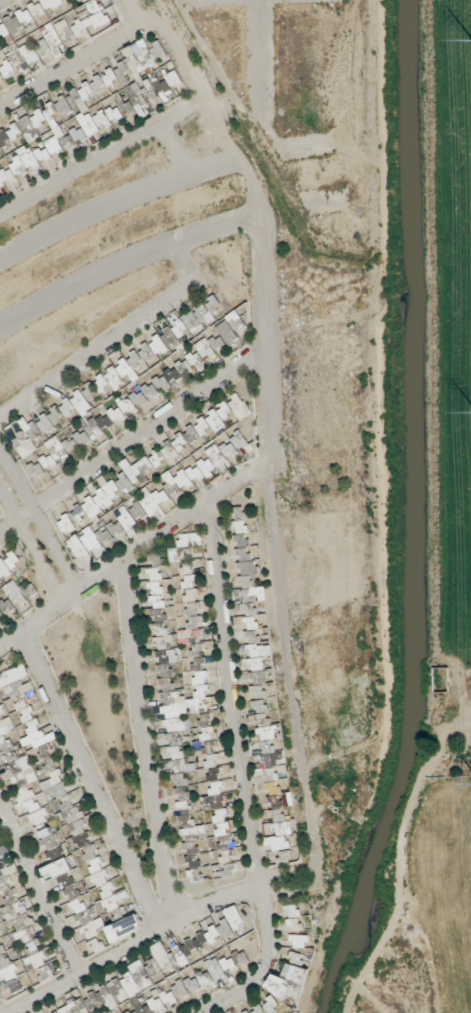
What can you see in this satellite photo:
road: (3, 1)
road: (216, 2)
road: (131, 14)
power tower: (468, 44)
building: (0, 51)
road: (259, 58)
road: (83, 60)
building: (166, 87)
building: (138, 102)
building: (79, 109)
road: (173, 154)
road: (104, 159)
road: (116, 204)
road: (123, 263)
road: (182, 270)
road: (87, 357)
road: (385, 358)
road: (133, 441)
road: (268, 448)
road: (40, 522)
road: (29, 549)
road: (132, 556)
building: (9, 569)
road: (237, 742)
road: (143, 744)
road: (91, 782)
road: (399, 853)
road: (285, 886)
road: (39, 890)
road: (131, 945)
building: (114, 997)
road: (231, 998)
road: (372, 1000)
road: (353, 1001)
building: (79, 1009)

